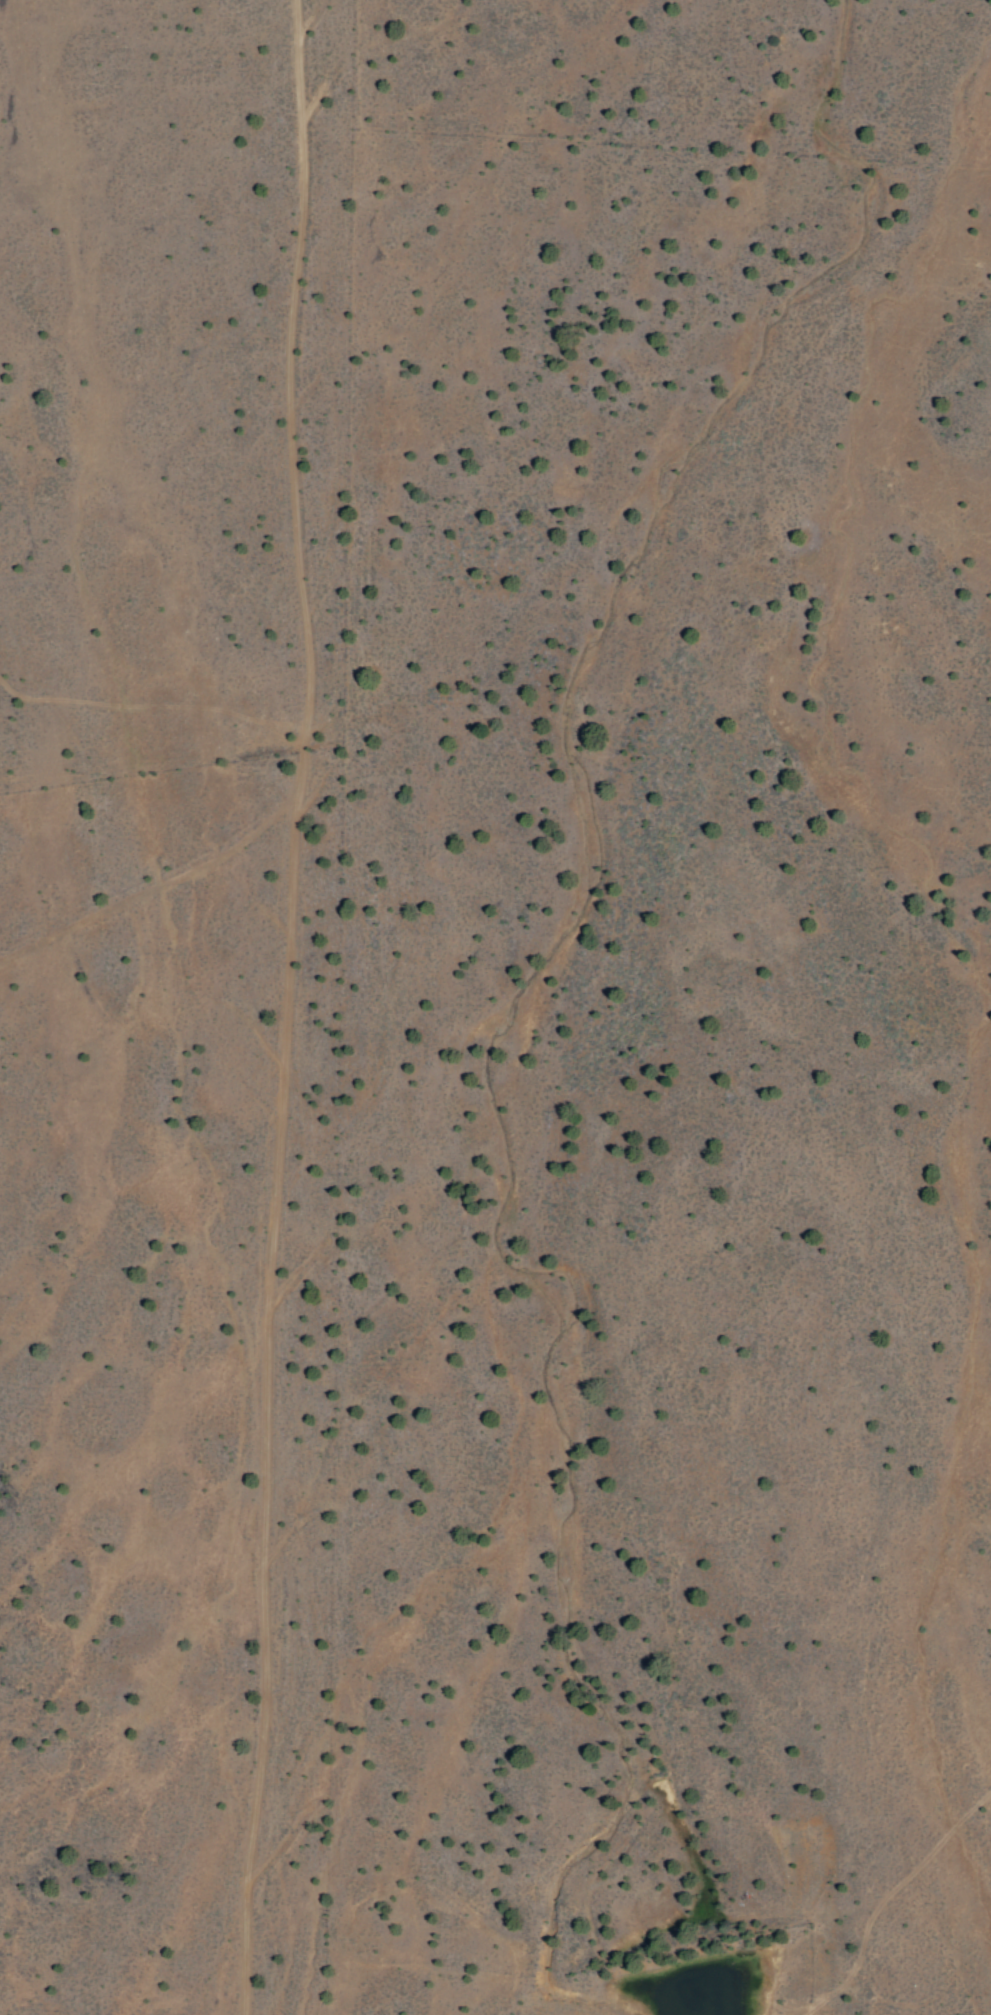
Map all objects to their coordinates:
road: (163, 885)
road: (284, 1006)
road: (882, 1905)

